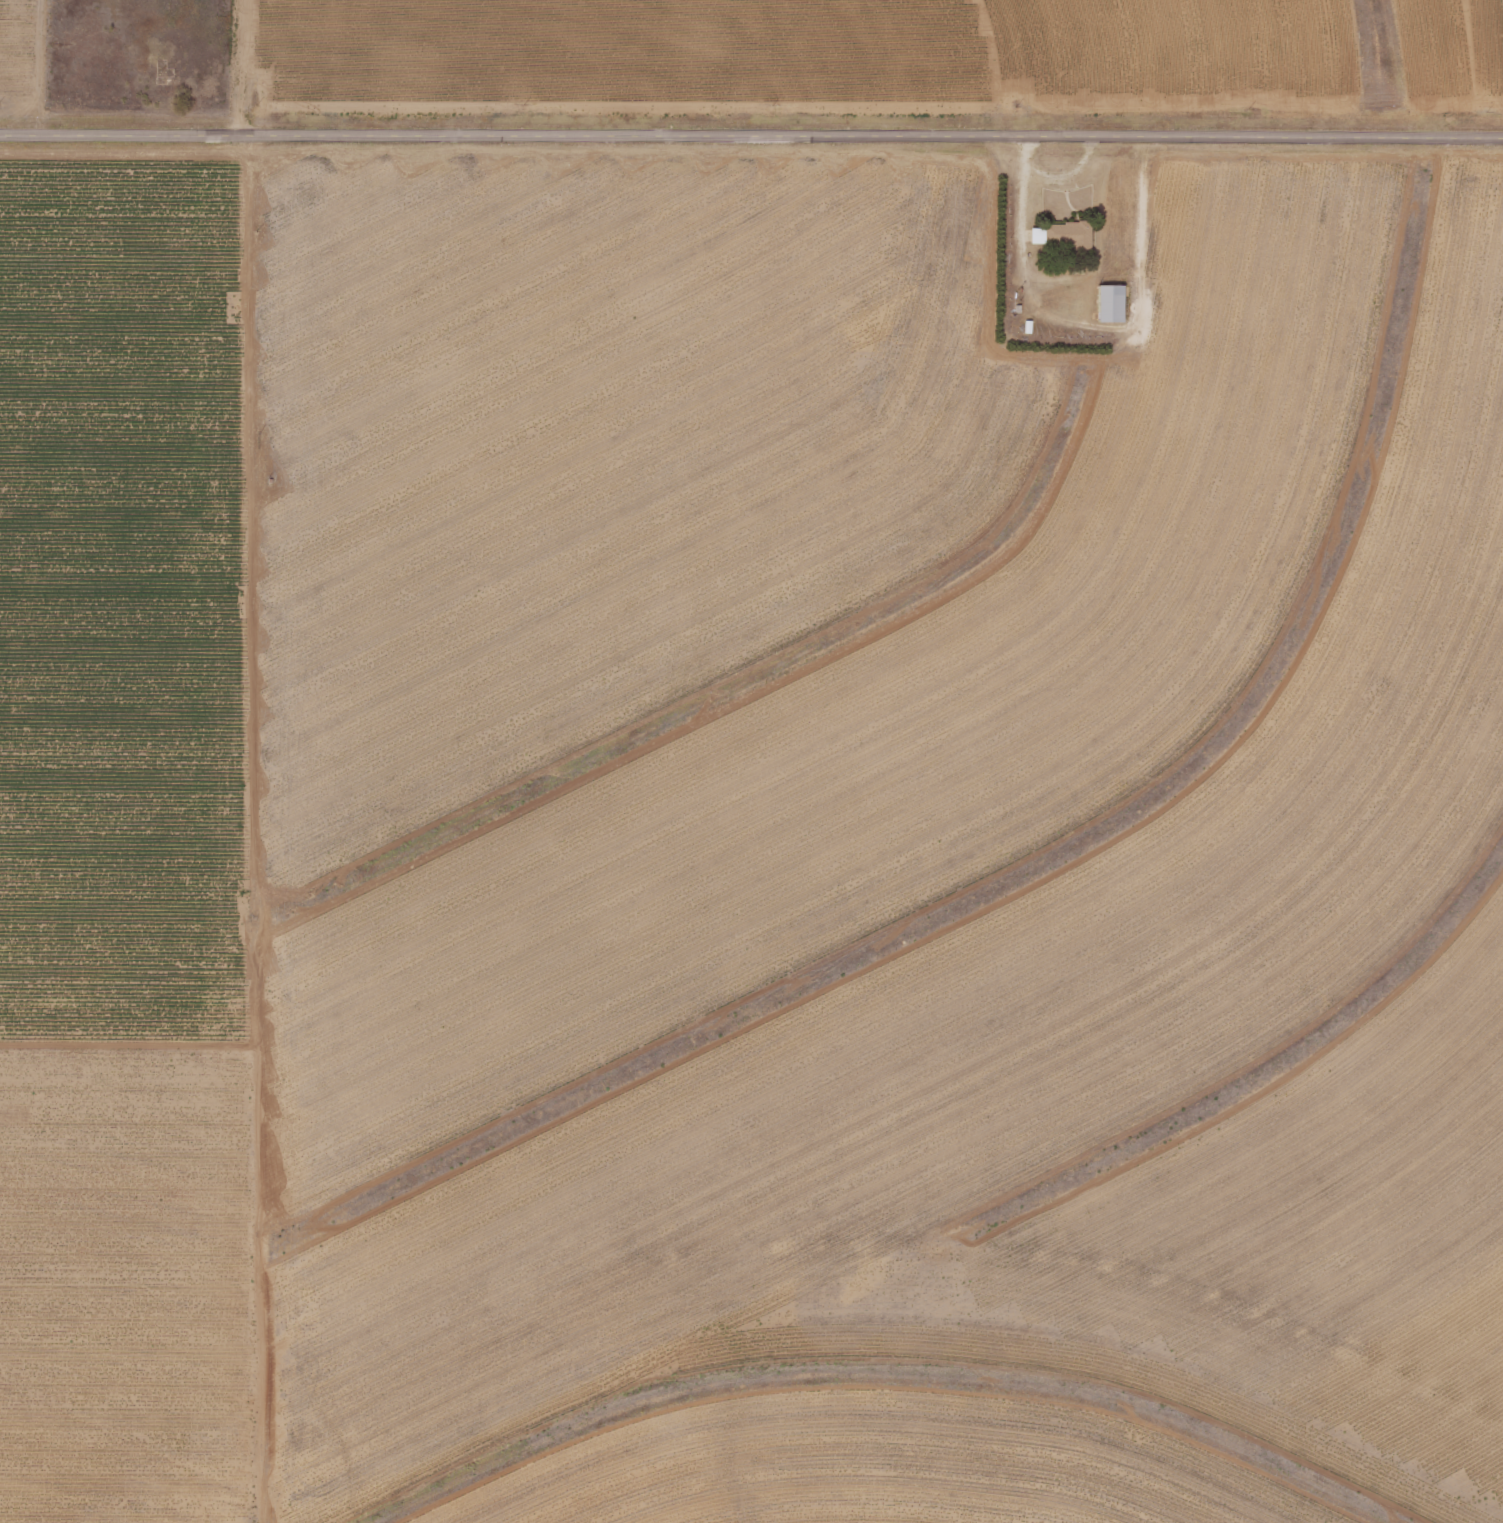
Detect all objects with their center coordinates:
road: (751, 146)

